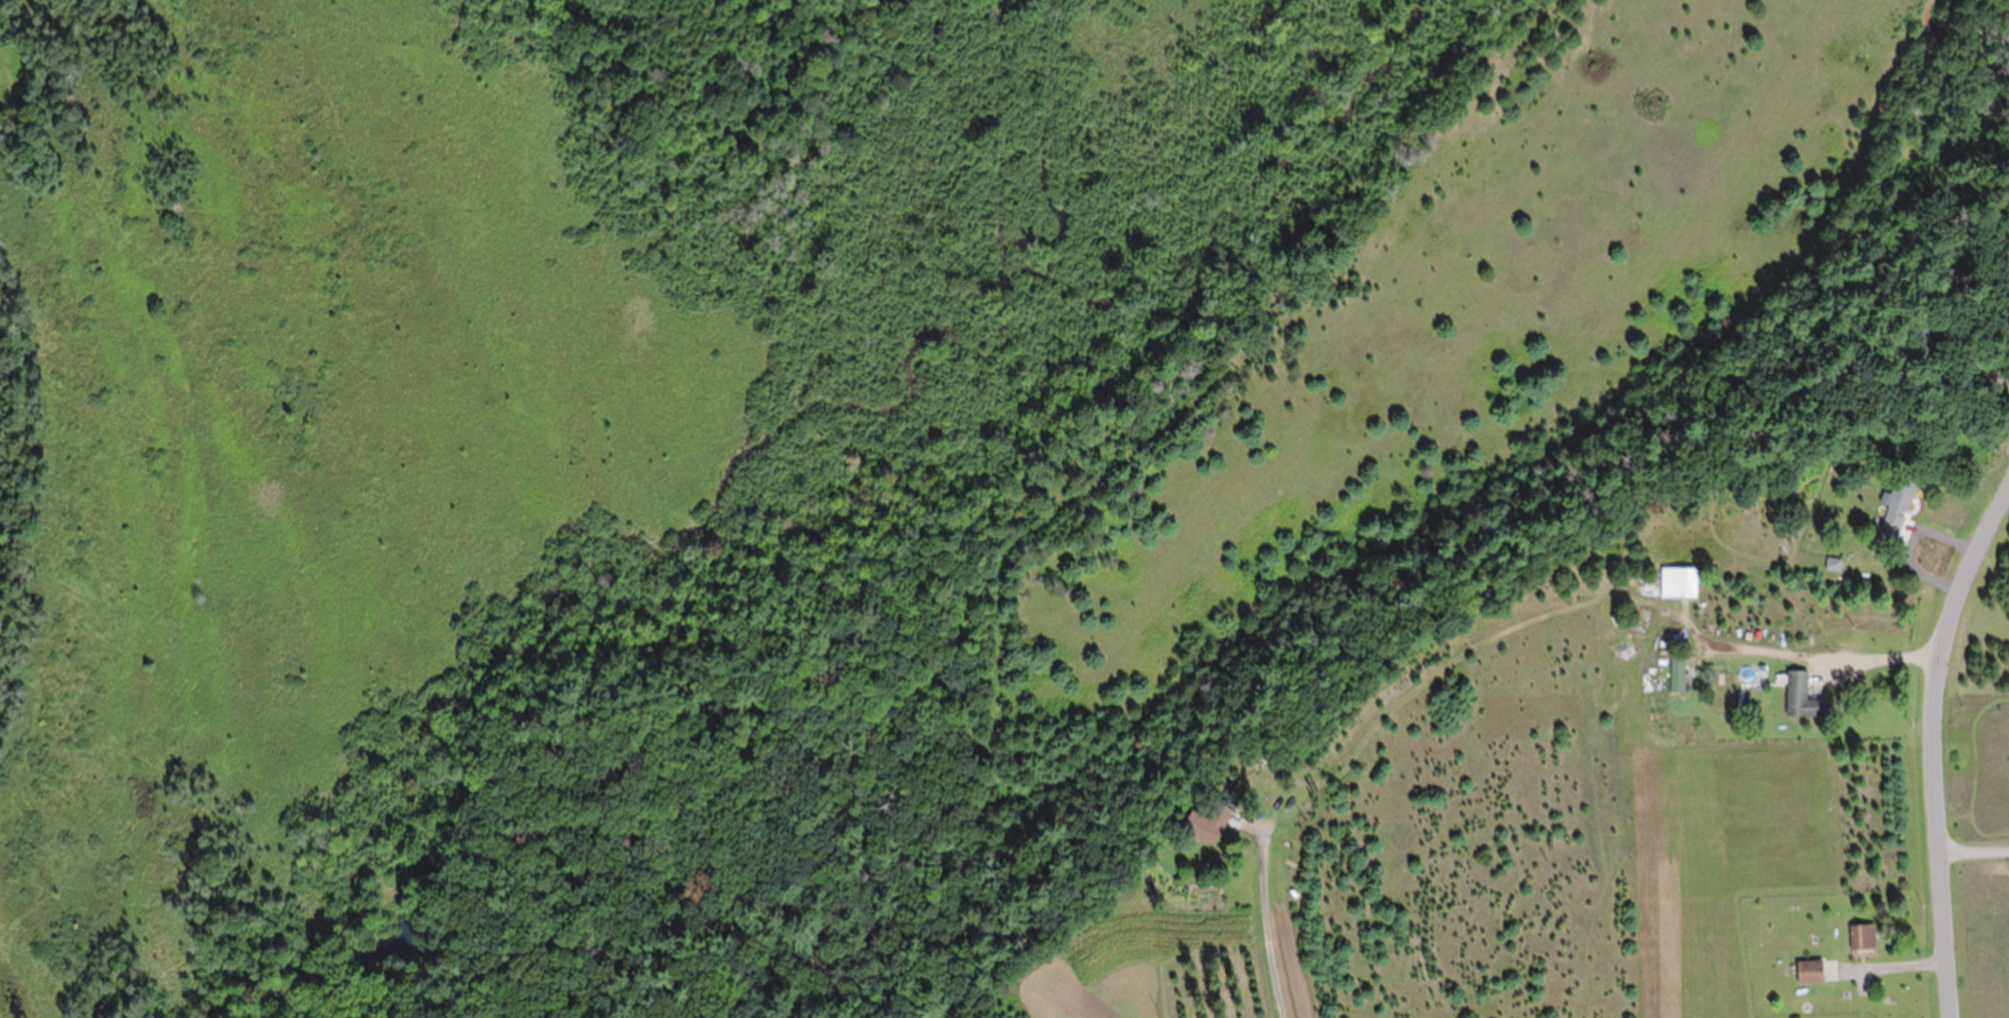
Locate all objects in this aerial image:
building: (1893, 507)
building: (1674, 582)
building: (1674, 673)
building: (1797, 697)
road: (1940, 744)
building: (1212, 823)
road: (1976, 852)
building: (1858, 937)
road: (1267, 940)
building: (1805, 971)

